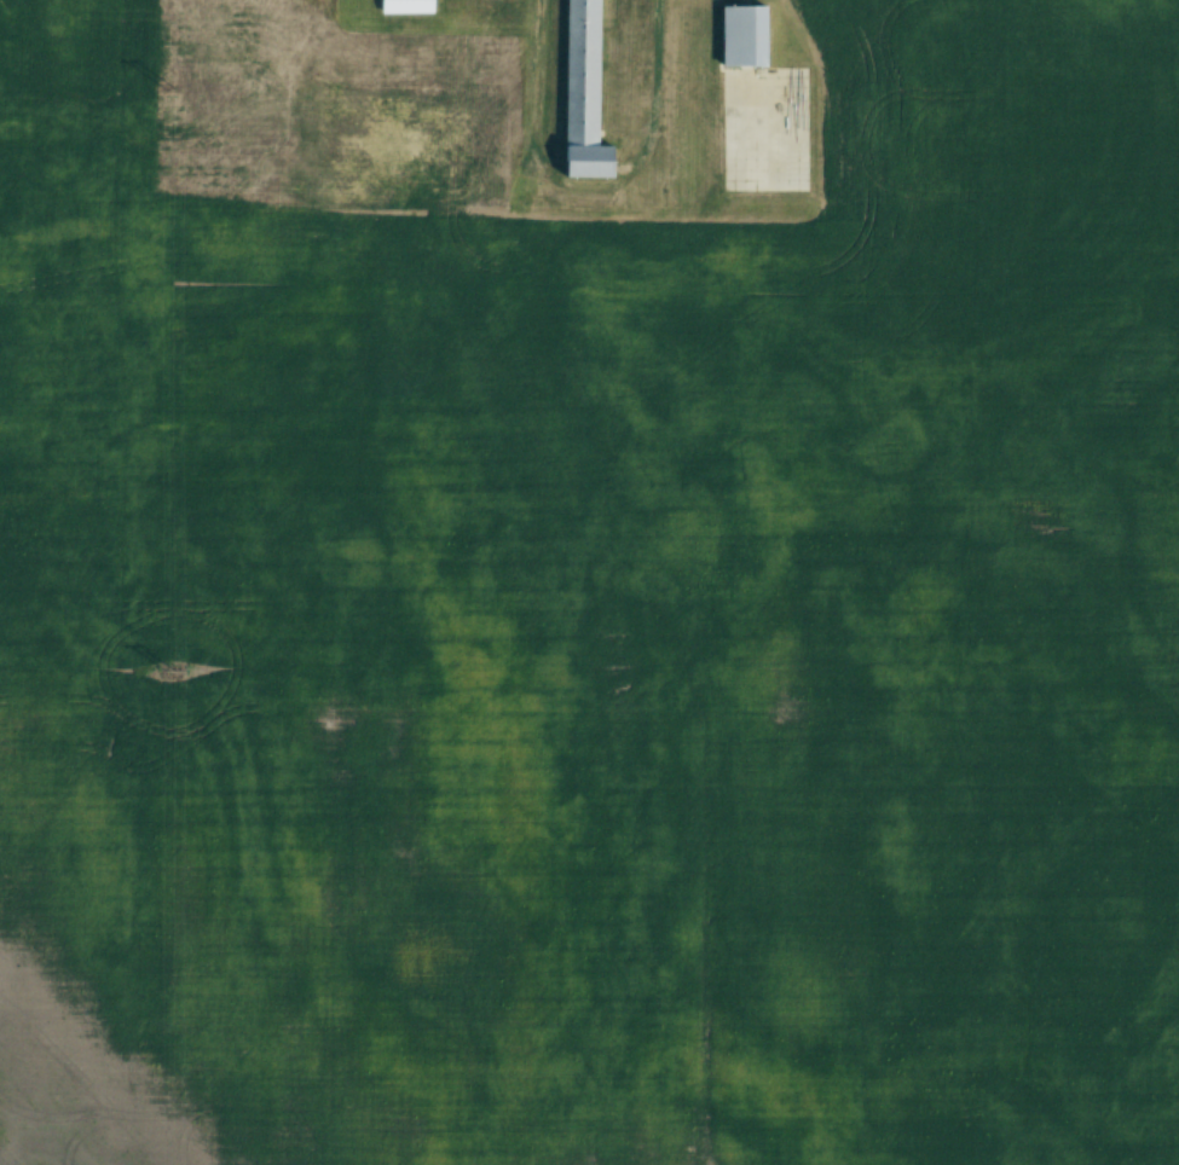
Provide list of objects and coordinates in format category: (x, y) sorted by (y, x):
building: (409, 6)
building: (747, 36)
power tower: (172, 89)
building: (588, 94)
power tower: (177, 671)

